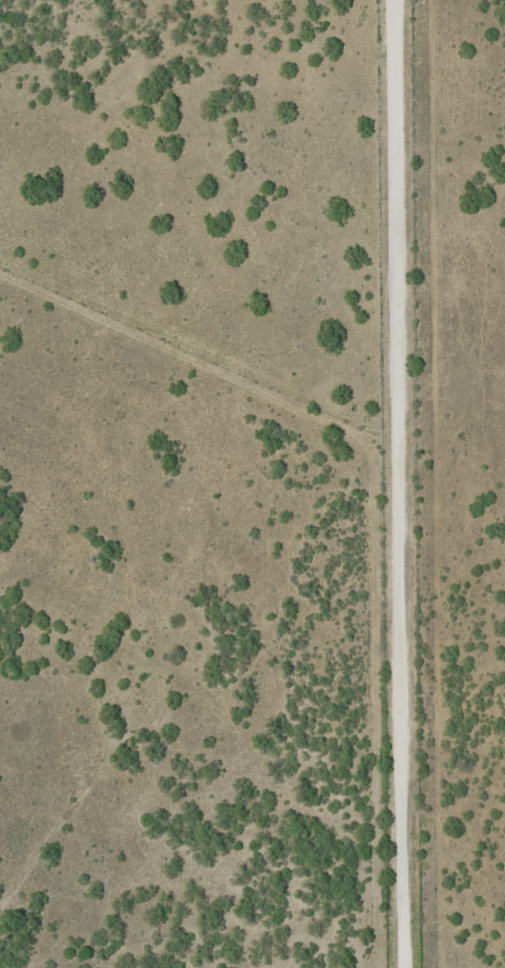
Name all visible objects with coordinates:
road: (397, 484)

